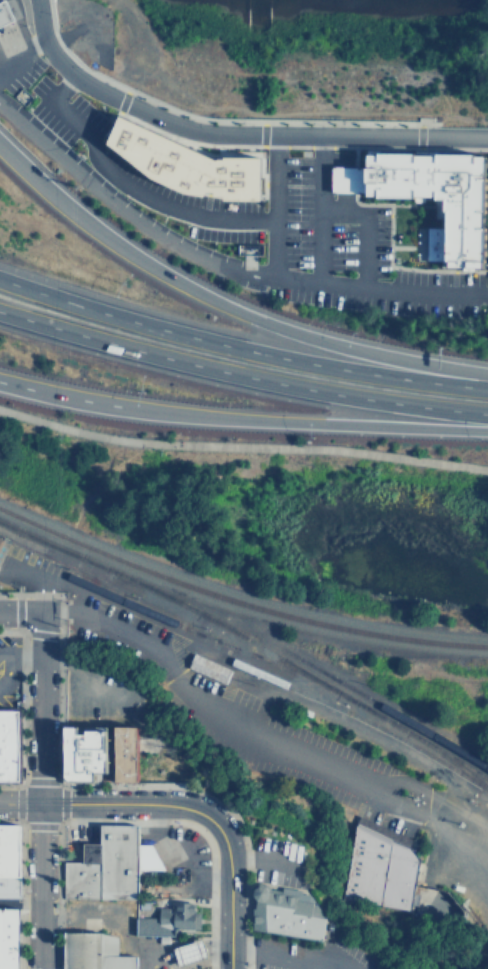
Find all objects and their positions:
park: (483, 6)
building: (4, 14)
gas station: (4, 14)
road: (20, 60)
park: (298, 67)
road: (198, 121)
road: (412, 134)
road: (227, 135)
road: (450, 143)
building: (190, 158)
building: (357, 169)
road: (351, 181)
road: (120, 188)
building: (468, 203)
road: (270, 208)
flagpole: (435, 210)
road: (314, 211)
flagpole: (435, 212)
flagpole: (435, 214)
road: (121, 221)
road: (94, 229)
road: (356, 230)
road: (401, 236)
road: (406, 257)
road: (373, 289)
road: (483, 293)
road: (342, 345)
road: (240, 348)
road: (241, 375)
road: (153, 409)
road: (399, 425)
road: (242, 445)
railway: (0, 538)
building: (1, 541)
road: (49, 581)
road: (41, 596)
railway: (237, 601)
road: (20, 613)
railway: (195, 634)
railway: (249, 642)
road: (23, 653)
road: (6, 669)
parking lot: (7, 670)
building: (204, 671)
road: (82, 677)
parking lot: (98, 694)
parking lot: (226, 712)
railway: (367, 723)
road: (259, 734)
railway: (426, 737)
building: (9, 742)
building: (85, 751)
building: (124, 752)
road: (40, 790)
road: (106, 803)
parking lot: (387, 819)
parking lot: (179, 854)
building: (146, 856)
building: (114, 858)
road: (263, 858)
building: (9, 860)
parking lot: (278, 860)
building: (80, 879)
building: (395, 883)
road: (229, 890)
road: (349, 911)
building: (283, 912)
building: (164, 921)
building: (8, 938)
road: (459, 948)
building: (81, 950)
building: (189, 952)
gas station: (189, 952)
parking lot: (310, 953)
road: (286, 955)
building: (117, 961)

